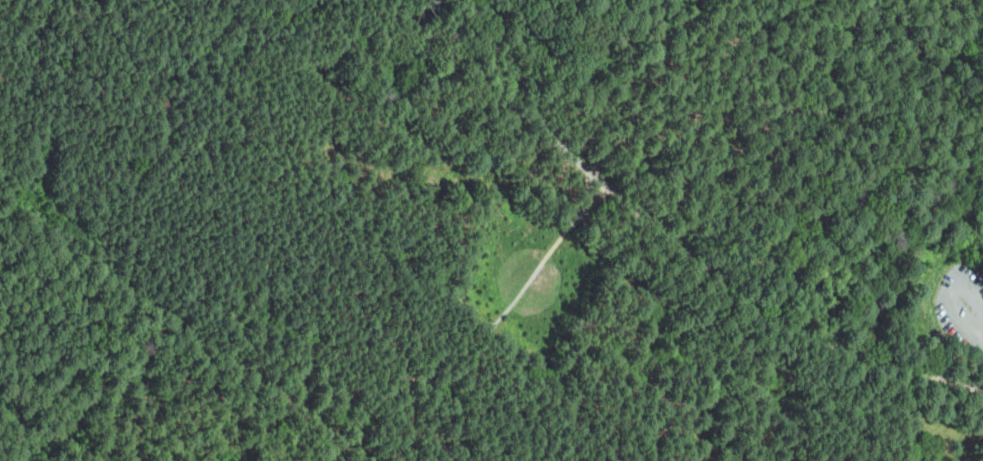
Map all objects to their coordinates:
road: (809, 16)
road: (360, 22)
road: (603, 49)
road: (118, 93)
road: (466, 126)
road: (618, 141)
road: (609, 147)
road: (614, 149)
road: (253, 185)
road: (95, 246)
road: (688, 252)
road: (74, 265)
road: (64, 289)
road: (950, 297)
road: (92, 299)
parking lot: (963, 305)
road: (61, 314)
road: (492, 326)
road: (111, 337)

